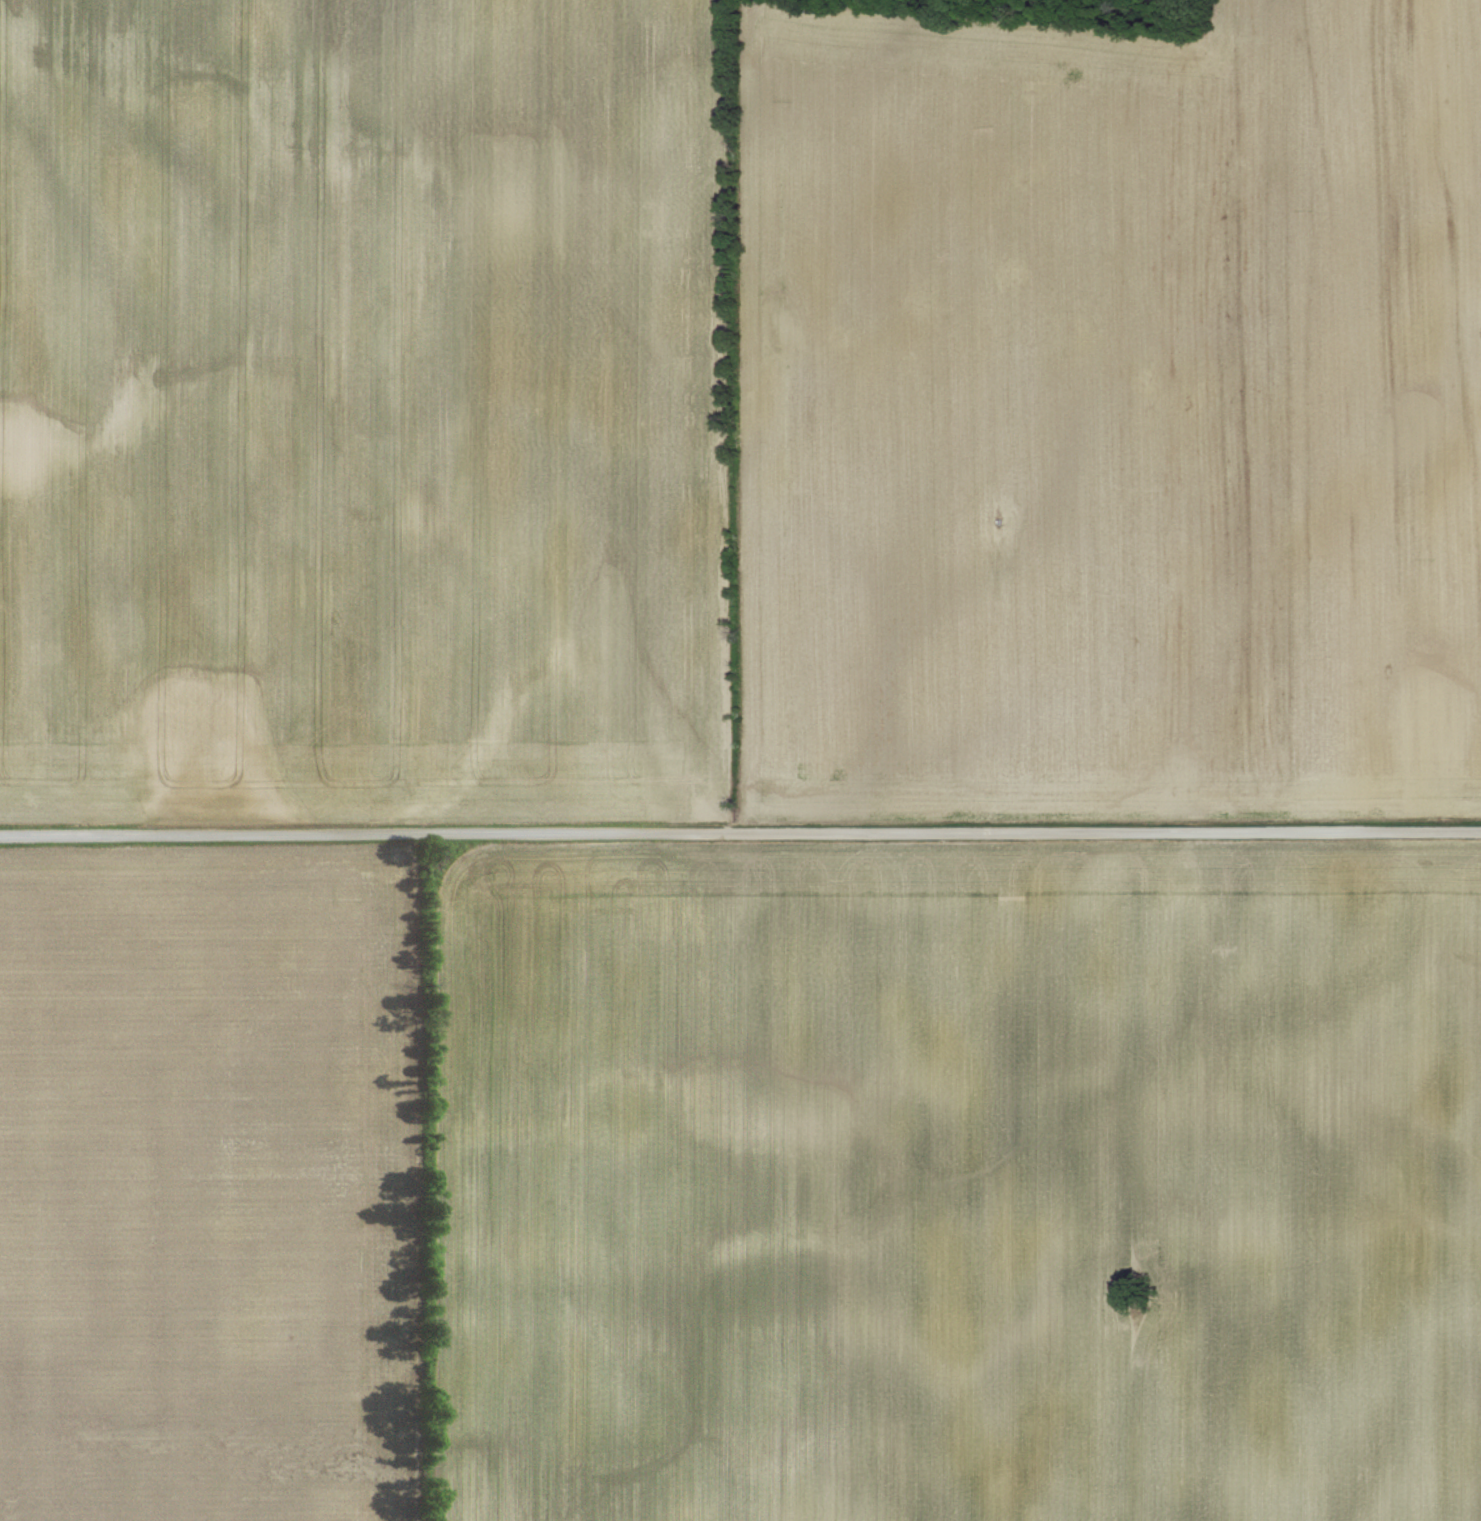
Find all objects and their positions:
road: (740, 832)

